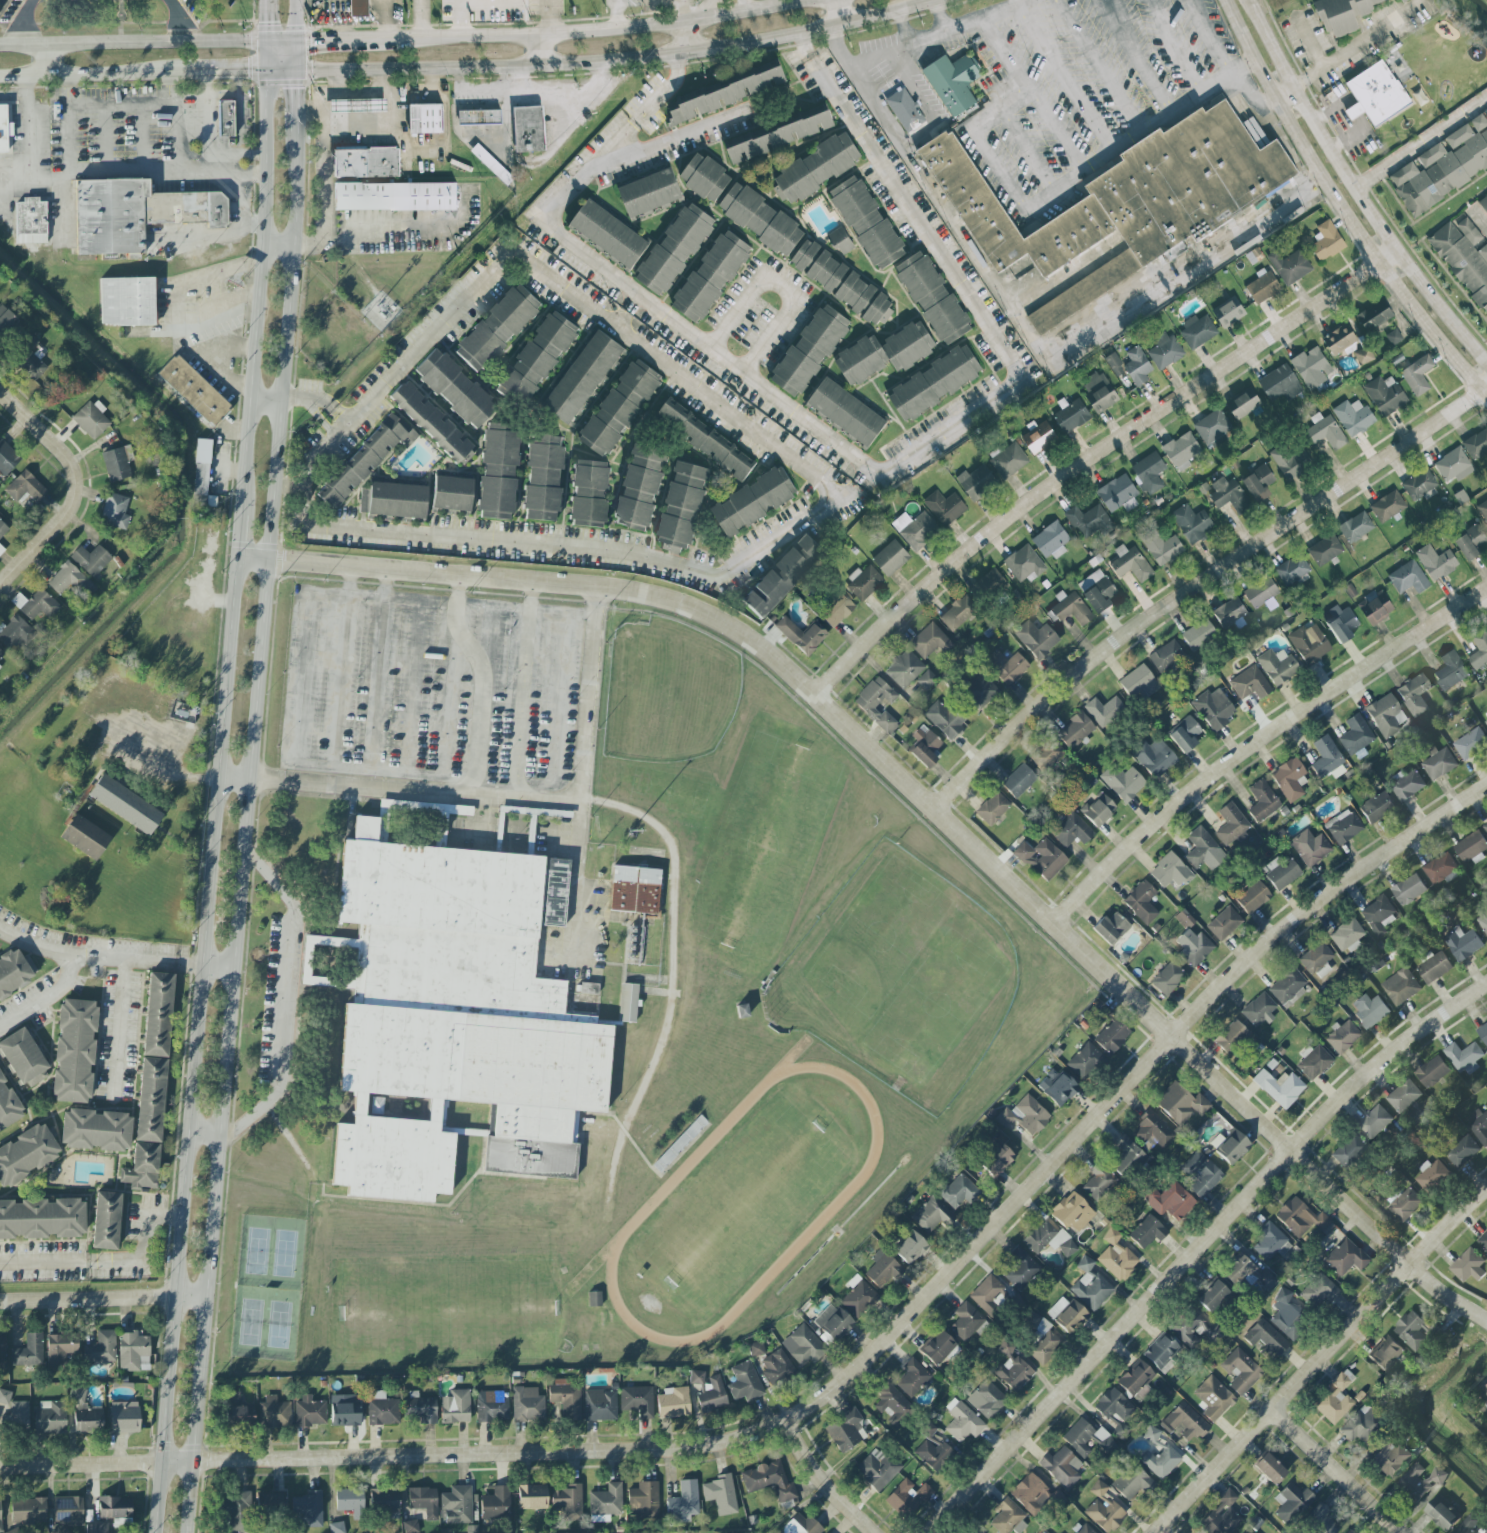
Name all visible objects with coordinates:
building: (1403, 0)
road: (736, 5)
building: (359, 8)
building: (497, 8)
road: (693, 10)
road: (834, 12)
road: (623, 14)
building: (1342, 14)
road: (939, 16)
road: (542, 19)
road: (269, 21)
traffic signals: (269, 21)
road: (293, 21)
road: (422, 21)
road: (178, 22)
road: (35, 23)
road: (902, 27)
road: (582, 33)
road: (939, 34)
road: (688, 37)
road: (1210, 37)
road: (281, 43)
traffic signals: (314, 43)
road: (330, 43)
road: (1310, 43)
road: (134, 44)
road: (800, 45)
road: (1174, 48)
road: (544, 51)
road: (1005, 53)
road: (269, 57)
road: (293, 57)
road: (1137, 58)
road: (616, 59)
road: (49, 61)
road: (1319, 62)
road: (1099, 67)
road: (281, 71)
road: (227, 72)
traffic signals: (246, 72)
road: (92, 76)
road: (1065, 79)
building: (952, 82)
parking lot: (1053, 82)
traffic signals: (295, 87)
building: (724, 92)
road: (667, 93)
building: (1375, 94)
road: (15, 95)
road: (295, 108)
building: (904, 109)
building: (479, 116)
building: (426, 118)
building: (226, 119)
road: (389, 126)
building: (528, 128)
building: (3, 129)
road: (1058, 130)
building: (775, 134)
road: (105, 135)
road: (144, 135)
road: (673, 136)
road: (331, 139)
road: (180, 141)
road: (30, 145)
road: (1421, 147)
road: (1029, 151)
building: (366, 161)
building: (1443, 166)
road: (920, 167)
building: (815, 168)
road: (590, 169)
road: (87, 171)
building: (705, 177)
road: (1073, 181)
road: (15, 183)
road: (1356, 189)
building: (649, 192)
building: (395, 196)
building: (1124, 199)
building: (1483, 201)
road: (1342, 207)
road: (62, 214)
building: (135, 214)
building: (760, 218)
road: (1481, 218)
building: (31, 221)
building: (867, 222)
road: (380, 223)
building: (608, 234)
building: (840, 240)
building: (1327, 241)
road: (280, 248)
building: (674, 248)
building: (1464, 257)
building: (1290, 265)
building: (711, 275)
road: (1159, 281)
building: (842, 282)
road: (786, 283)
building: (1262, 287)
road: (262, 293)
building: (932, 297)
road: (177, 299)
building: (127, 302)
building: (1228, 311)
building: (1374, 314)
building: (6, 322)
building: (497, 328)
building: (1197, 330)
building: (1393, 336)
building: (1339, 339)
building: (809, 350)
building: (1165, 351)
building: (884, 352)
building: (1363, 355)
building: (538, 356)
building: (31, 358)
road: (226, 364)
building: (1114, 364)
building: (1137, 365)
building: (1311, 366)
building: (1417, 374)
building: (582, 376)
building: (933, 382)
building: (1279, 382)
building: (454, 389)
road: (1484, 389)
building: (194, 390)
building: (1099, 391)
building: (1385, 394)
road: (317, 399)
road: (268, 401)
building: (1243, 403)
building: (619, 407)
building: (846, 411)
building: (1071, 415)
building: (1353, 416)
building: (92, 419)
building: (433, 424)
building: (1212, 428)
building: (1326, 432)
road: (45, 434)
building: (1038, 436)
road: (943, 438)
building: (705, 439)
building: (1476, 443)
building: (1181, 450)
road: (1092, 455)
building: (7, 458)
building: (366, 459)
building: (1008, 460)
building: (1290, 460)
building: (117, 463)
building: (1453, 465)
building: (498, 471)
building: (201, 472)
building: (1148, 472)
building: (543, 477)
building: (976, 481)
building: (1258, 482)
building: (1419, 485)
building: (640, 487)
building: (25, 488)
building: (589, 493)
building: (1118, 493)
building: (451, 494)
building: (1229, 495)
building: (397, 500)
building: (753, 501)
building: (363, 503)
road: (835, 504)
building: (1387, 505)
building: (681, 507)
building: (945, 507)
building: (1483, 509)
building: (115, 511)
building: (1089, 520)
building: (1191, 523)
building: (1356, 526)
building: (915, 528)
building: (3, 529)
road: (43, 534)
road: (242, 539)
building: (1050, 540)
building: (1470, 541)
building: (1162, 547)
building: (1325, 549)
building: (1, 550)
building: (890, 557)
building: (91, 560)
building: (1436, 561)
building: (1130, 563)
building: (1023, 564)
building: (1292, 571)
building: (782, 575)
building: (1408, 577)
building: (70, 581)
building: (865, 583)
road: (1196, 585)
building: (988, 586)
building: (1097, 590)
building: (1260, 591)
road: (366, 594)
building: (40, 606)
building: (1375, 606)
road: (549, 607)
building: (836, 610)
building: (958, 612)
building: (1229, 612)
building: (1341, 623)
building: (15, 634)
building: (1198, 634)
building: (801, 635)
building: (1036, 639)
building: (930, 641)
building: (1309, 644)
building: (1479, 650)
building: (1, 655)
building: (1166, 656)
building: (1277, 666)
building: (1006, 667)
building: (904, 669)
building: (1451, 670)
building: (926, 680)
building: (1139, 683)
road: (482, 684)
building: (1250, 684)
parking lot: (431, 686)
road: (339, 690)
building: (978, 692)
road: (376, 693)
building: (1414, 695)
building: (876, 703)
building: (1213, 709)
building: (1104, 711)
building: (1386, 715)
building: (945, 719)
building: (1485, 721)
parking lot: (144, 729)
road: (445, 730)
building: (1075, 730)
building: (1185, 734)
building: (1356, 737)
road: (1262, 741)
building: (1471, 743)
building: (924, 747)
building: (1047, 755)
building: (1154, 757)
building: (1327, 760)
building: (1439, 763)
road: (585, 772)
building: (1289, 780)
road: (200, 781)
building: (1018, 781)
building: (1123, 782)
road: (234, 783)
building: (1408, 786)
road: (415, 793)
building: (1262, 801)
road: (930, 802)
building: (125, 805)
building: (992, 808)
building: (1376, 808)
building: (1098, 810)
road: (488, 812)
building: (1231, 824)
building: (1344, 827)
building: (1485, 828)
building: (1072, 831)
building: (84, 837)
road: (241, 839)
building: (1310, 848)
building: (1471, 848)
building: (1203, 850)
building: (1041, 859)
building: (1440, 868)
building: (1170, 871)
building: (1281, 872)
building: (1409, 890)
building: (635, 893)
building: (1252, 897)
building: (1141, 903)
building: (1379, 916)
building: (1483, 921)
building: (1224, 924)
building: (1110, 928)
building: (1346, 936)
building: (636, 940)
road: (61, 944)
building: (1464, 944)
building: (1194, 949)
road: (153, 960)
building: (1317, 960)
road: (205, 964)
building: (1434, 968)
building: (15, 972)
building: (1167, 978)
park: (901, 981)
building: (1287, 986)
building: (1401, 987)
road: (47, 994)
building: (630, 1005)
road: (288, 1006)
building: (1259, 1010)
building: (1370, 1011)
building: (157, 1015)
building: (456, 1023)
road: (125, 1025)
building: (1483, 1032)
building: (1112, 1036)
building: (1230, 1037)
building: (1342, 1037)
road: (202, 1048)
building: (74, 1052)
building: (1465, 1057)
building: (24, 1058)
building: (1085, 1061)
building: (1314, 1063)
building: (1433, 1072)
building: (1279, 1087)
building: (1058, 1088)
building: (1404, 1096)
building: (1180, 1104)
building: (8, 1106)
building: (1024, 1116)
building: (1375, 1122)
building: (147, 1126)
building: (1480, 1129)
building: (95, 1130)
building: (1152, 1132)
building: (1232, 1148)
building: (1349, 1151)
building: (1463, 1152)
building: (27, 1154)
building: (1127, 1158)
building: (996, 1160)
building: (1200, 1174)
building: (1433, 1177)
building: (1098, 1183)
building: (958, 1192)
building: (1171, 1201)
building: (1406, 1205)
track: (744, 1207)
building: (1072, 1212)
building: (930, 1216)
building: (1301, 1218)
building: (42, 1219)
building: (106, 1221)
building: (1147, 1232)
building: (1049, 1239)
building: (1483, 1241)
building: (1270, 1242)
building: (910, 1248)
road: (148, 1249)
road: (1198, 1249)
building: (1116, 1257)
building: (1345, 1258)
road: (43, 1265)
building: (1469, 1266)
building: (883, 1269)
building: (1020, 1269)
building: (1238, 1270)
building: (1090, 1285)
park: (268, 1289)
building: (1317, 1290)
building: (987, 1294)
building: (1212, 1296)
building: (858, 1297)
building: (594, 1299)
road: (101, 1300)
building: (1067, 1315)
building: (1287, 1315)
building: (833, 1322)
building: (966, 1322)
building: (1188, 1329)
building: (1414, 1331)
building: (1266, 1338)
building: (1044, 1343)
building: (804, 1346)
building: (937, 1347)
building: (101, 1348)
building: (60, 1349)
building: (756, 1349)
building: (2, 1351)
building: (29, 1351)
building: (134, 1352)
building: (1161, 1352)
building: (1386, 1353)
road: (1320, 1360)
building: (776, 1368)
building: (1012, 1369)
building: (1240, 1371)
road: (851, 1375)
building: (912, 1377)
building: (1136, 1380)
building: (745, 1383)
building: (708, 1390)
building: (1483, 1395)
building: (5, 1397)
building: (566, 1398)
building: (1213, 1398)
building: (1334, 1399)
building: (637, 1400)
building: (987, 1400)
building: (890, 1402)
building: (673, 1403)
building: (527, 1405)
building: (600, 1405)
building: (1114, 1405)
building: (491, 1406)
building: (455, 1407)
building: (420, 1408)
building: (381, 1409)
building: (344, 1411)
building: (310, 1412)
building: (85, 1413)
building: (274, 1413)
building: (15, 1415)
building: (50, 1417)
building: (124, 1417)
building: (239, 1417)
building: (962, 1422)
building: (1185, 1422)
building: (1359, 1425)
building: (846, 1431)
building: (1151, 1434)
building: (1087, 1438)
building: (933, 1452)
building: (1391, 1458)
building: (1160, 1462)
building: (1061, 1467)
building: (877, 1469)
building: (1269, 1469)
road: (1335, 1473)
building: (768, 1480)
building: (1421, 1481)
building: (1132, 1482)
road: (824, 1483)
building: (1100, 1492)
building: (721, 1494)
building: (1033, 1495)
building: (532, 1497)
building: (908, 1498)
building: (349, 1499)
building: (643, 1500)
building: (271, 1501)
building: (424, 1501)
building: (568, 1501)
building: (684, 1502)
building: (385, 1503)
building: (605, 1503)
building: (1292, 1503)
building: (456, 1506)
building: (115, 1508)
building: (309, 1508)
building: (28, 1511)
building: (68, 1511)
building: (234, 1512)
building: (1105, 1515)
building: (1222, 1515)
building: (1441, 1515)
building: (0, 1516)
building: (1008, 1517)
building: (1321, 1521)
building: (804, 1524)
building: (1468, 1525)
building: (95, 1528)
building: (1085, 1529)
building: (972, 1530)
road: (1162, 1530)
building: (1348, 1531)
building: (1485, 1531)
building: (828, 1532)

